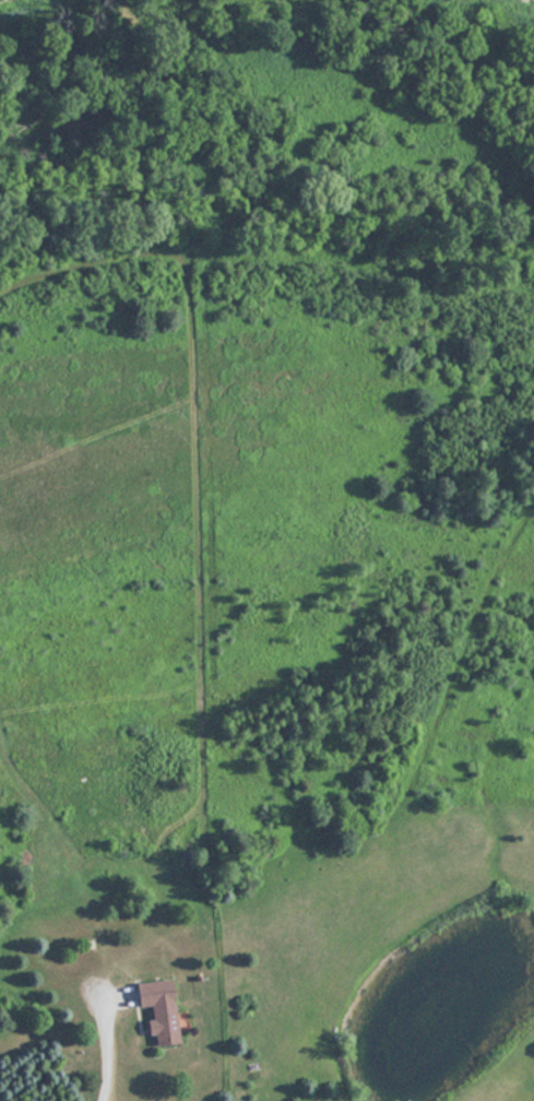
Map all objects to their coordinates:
building: (154, 1009)
road: (102, 1047)

